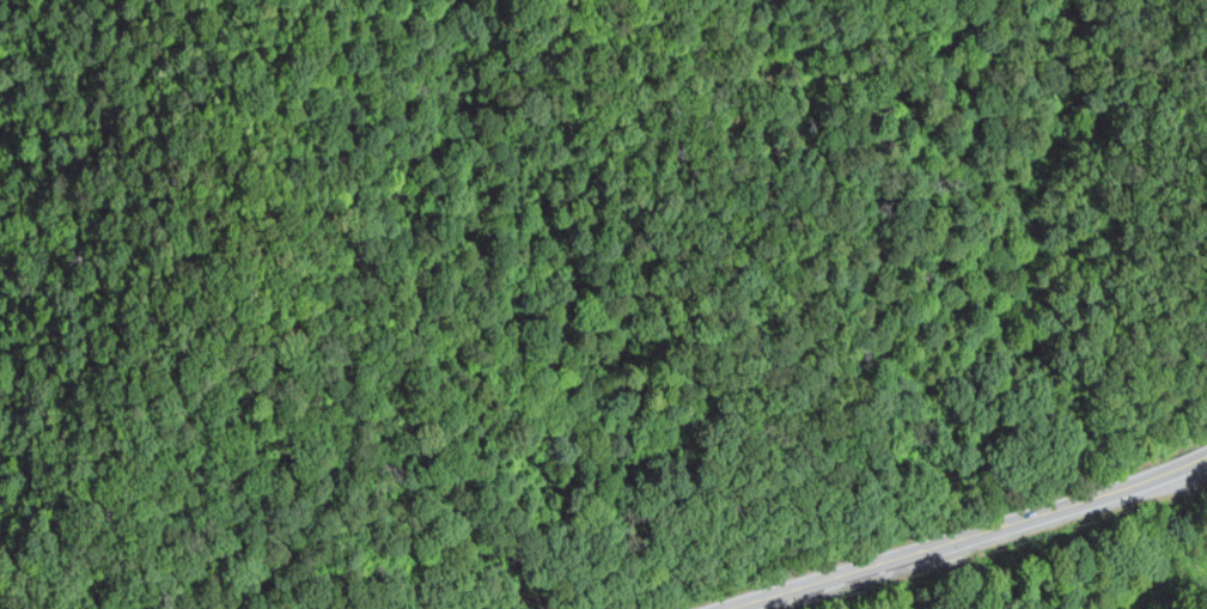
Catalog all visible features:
road: (975, 537)

